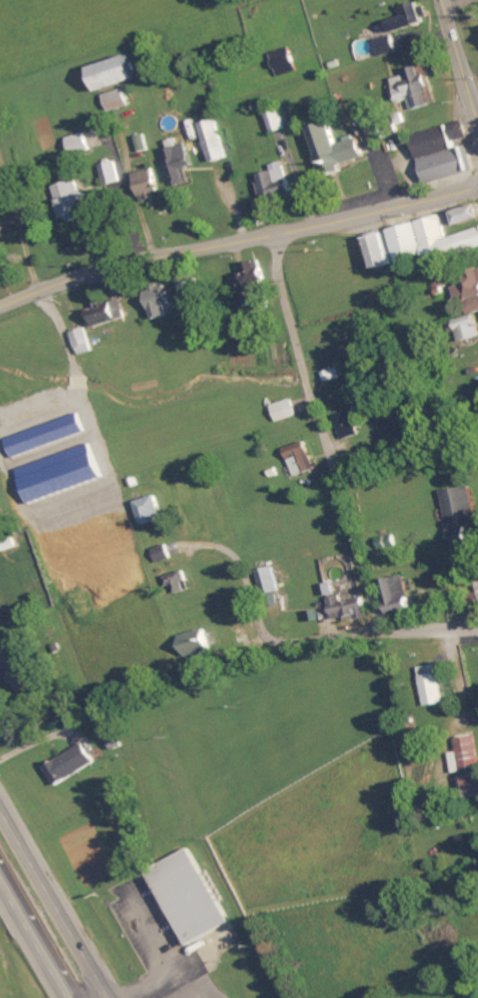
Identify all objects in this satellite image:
building: (409, 18)
building: (389, 46)
road: (461, 55)
building: (285, 62)
building: (117, 73)
building: (416, 88)
building: (117, 100)
building: (277, 121)
building: (215, 141)
building: (80, 143)
building: (336, 149)
building: (445, 153)
building: (180, 162)
building: (111, 173)
building: (277, 183)
building: (147, 184)
building: (75, 199)
building: (469, 215)
building: (2, 231)
road: (237, 240)
building: (433, 240)
building: (384, 251)
building: (255, 284)
building: (191, 289)
building: (470, 291)
building: (160, 302)
building: (109, 312)
building: (469, 328)
building: (84, 342)
building: (333, 376)
building: (286, 411)
building: (348, 426)
road: (325, 432)
building: (48, 436)
building: (302, 459)
building: (460, 506)
building: (1, 510)
building: (151, 510)
building: (458, 535)
building: (388, 542)
building: (163, 554)
building: (268, 581)
building: (177, 582)
building: (399, 598)
building: (349, 609)
road: (297, 639)
building: (197, 643)
building: (20, 672)
building: (434, 686)
building: (71, 765)
building: (468, 766)
building: (188, 897)
road: (56, 900)
road: (149, 928)
road: (34, 938)
road: (150, 985)

